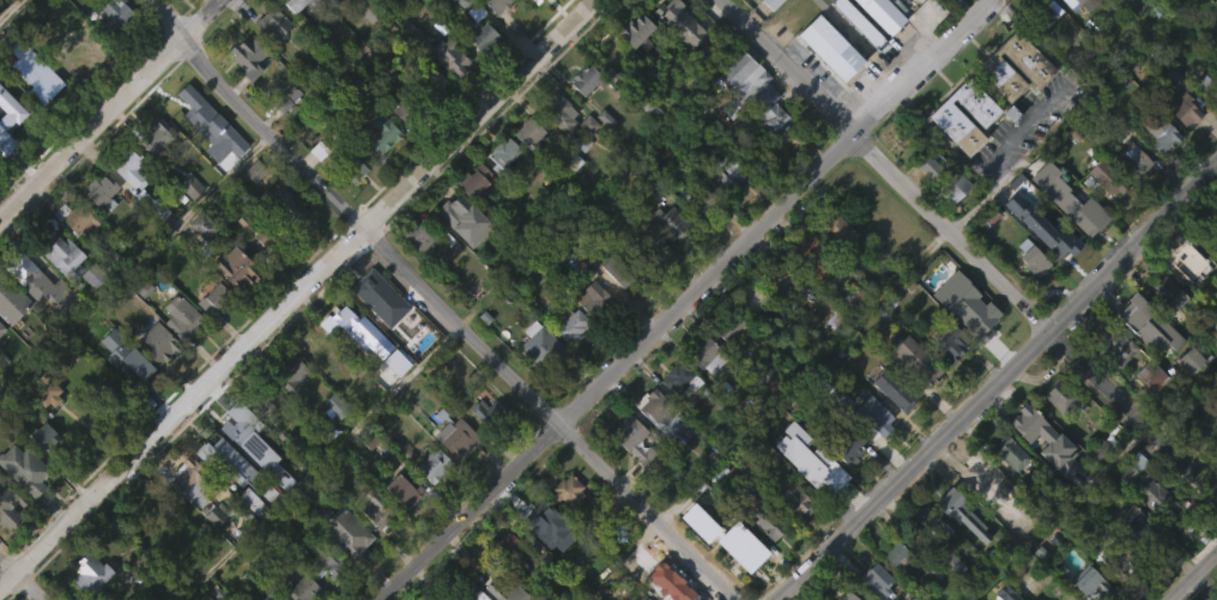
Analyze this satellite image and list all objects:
building: (332, 1)
building: (299, 4)
building: (498, 4)
building: (1089, 4)
building: (559, 5)
building: (732, 6)
building: (941, 6)
road: (8, 7)
building: (473, 7)
building: (84, 12)
building: (114, 14)
building: (884, 14)
building: (317, 16)
building: (527, 16)
building: (273, 22)
building: (1042, 22)
building: (860, 23)
building: (1070, 28)
building: (637, 30)
building: (293, 34)
building: (482, 34)
building: (768, 36)
building: (462, 41)
building: (111, 49)
building: (365, 50)
building: (829, 50)
building: (612, 51)
building: (248, 55)
building: (449, 55)
building: (1042, 55)
building: (853, 57)
building: (78, 59)
building: (677, 59)
building: (270, 61)
road: (338, 65)
building: (634, 69)
building: (477, 73)
building: (587, 78)
building: (430, 80)
building: (1210, 83)
building: (827, 85)
building: (755, 90)
building: (987, 91)
building: (243, 93)
building: (447, 93)
building: (75, 98)
building: (1011, 104)
building: (408, 107)
building: (1185, 107)
road: (109, 108)
building: (186, 108)
building: (559, 108)
building: (31, 110)
building: (428, 117)
building: (750, 129)
building: (8, 131)
building: (371, 131)
building: (1163, 131)
building: (531, 132)
building: (157, 135)
building: (283, 135)
building: (1183, 144)
building: (181, 147)
building: (400, 150)
building: (557, 151)
building: (504, 154)
building: (601, 154)
building: (7, 158)
road: (1000, 158)
building: (1133, 159)
building: (351, 160)
building: (585, 162)
building: (931, 162)
road: (886, 163)
building: (129, 165)
building: (951, 165)
building: (526, 169)
building: (1156, 169)
building: (379, 171)
building: (727, 171)
building: (152, 174)
building: (1108, 178)
building: (474, 180)
building: (953, 186)
building: (99, 189)
building: (499, 190)
building: (704, 198)
building: (1128, 198)
building: (922, 202)
building: (152, 204)
building: (127, 206)
building: (351, 206)
building: (250, 208)
building: (292, 210)
building: (723, 213)
building: (78, 217)
building: (1103, 217)
building: (461, 220)
building: (672, 222)
building: (186, 223)
building: (950, 224)
building: (97, 229)
building: (836, 230)
building: (202, 231)
building: (254, 234)
building: (418, 237)
building: (1066, 238)
building: (149, 241)
building: (285, 243)
road: (1134, 246)
building: (652, 249)
building: (62, 253)
building: (816, 255)
building: (460, 256)
building: (1035, 256)
building: (666, 259)
building: (110, 261)
building: (1191, 261)
building: (198, 262)
building: (236, 266)
building: (834, 267)
building: (617, 271)
building: (416, 273)
building: (781, 277)
building: (41, 283)
building: (658, 287)
road: (297, 292)
building: (373, 292)
building: (807, 293)
building: (1027, 295)
building: (1164, 296)
building: (214, 297)
building: (752, 297)
road: (688, 301)
building: (595, 302)
road: (438, 304)
building: (613, 307)
building: (1, 313)
building: (977, 313)
building: (87, 314)
building: (773, 315)
building: (182, 317)
building: (34, 319)
building: (573, 325)
building: (732, 326)
building: (1140, 332)
building: (1164, 332)
building: (376, 334)
building: (210, 335)
building: (746, 335)
building: (589, 337)
building: (8, 340)
building: (161, 341)
building: (950, 345)
building: (1119, 345)
building: (540, 346)
building: (317, 349)
building: (120, 350)
building: (707, 354)
building: (178, 356)
building: (914, 357)
building: (568, 363)
building: (727, 365)
building: (0, 366)
building: (359, 368)
building: (293, 372)
road: (804, 375)
building: (1152, 375)
building: (678, 376)
building: (156, 381)
building: (534, 382)
building: (946, 383)
building: (1110, 383)
building: (114, 386)
building: (316, 388)
building: (49, 392)
building: (892, 392)
building: (703, 393)
building: (1062, 395)
building: (1185, 398)
building: (267, 399)
building: (394, 399)
building: (913, 399)
road: (1134, 411)
building: (287, 412)
building: (488, 416)
building: (661, 417)
building: (873, 417)
building: (242, 423)
building: (1056, 434)
building: (43, 435)
building: (456, 435)
building: (630, 438)
building: (331, 443)
building: (849, 447)
building: (871, 451)
building: (1011, 451)
building: (659, 455)
building: (229, 461)
building: (434, 465)
road: (915, 465)
building: (1133, 467)
building: (28, 471)
building: (189, 473)
building: (454, 474)
building: (977, 474)
building: (631, 477)
building: (1041, 478)
building: (844, 483)
building: (1095, 485)
building: (405, 490)
building: (567, 490)
building: (1005, 491)
building: (225, 497)
building: (1157, 499)
building: (793, 501)
building: (430, 502)
building: (8, 505)
building: (1127, 505)
building: (379, 510)
building: (971, 513)
building: (957, 514)
building: (183, 517)
building: (1138, 521)
building: (765, 523)
building: (930, 523)
building: (399, 526)
building: (264, 529)
building: (349, 533)
building: (562, 535)
building: (792, 535)
building: (248, 539)
building: (8, 545)
building: (373, 547)
building: (515, 551)
building: (213, 552)
building: (896, 552)
building: (961, 554)
building: (1126, 556)
building: (323, 559)
building: (695, 559)
building: (926, 560)
building: (765, 562)
building: (91, 571)
road: (1194, 577)
road: (23, 581)
building: (737, 581)
building: (878, 581)
building: (1089, 582)
building: (676, 587)
building: (166, 588)
building: (303, 588)
building: (508, 590)
building: (1113, 590)
building: (467, 592)
building: (319, 593)
building: (83, 595)
building: (272, 595)
building: (946, 595)
building: (849, 596)
building: (1071, 598)
building: (99, 599)
building: (438, 599)
building: (870, 599)

